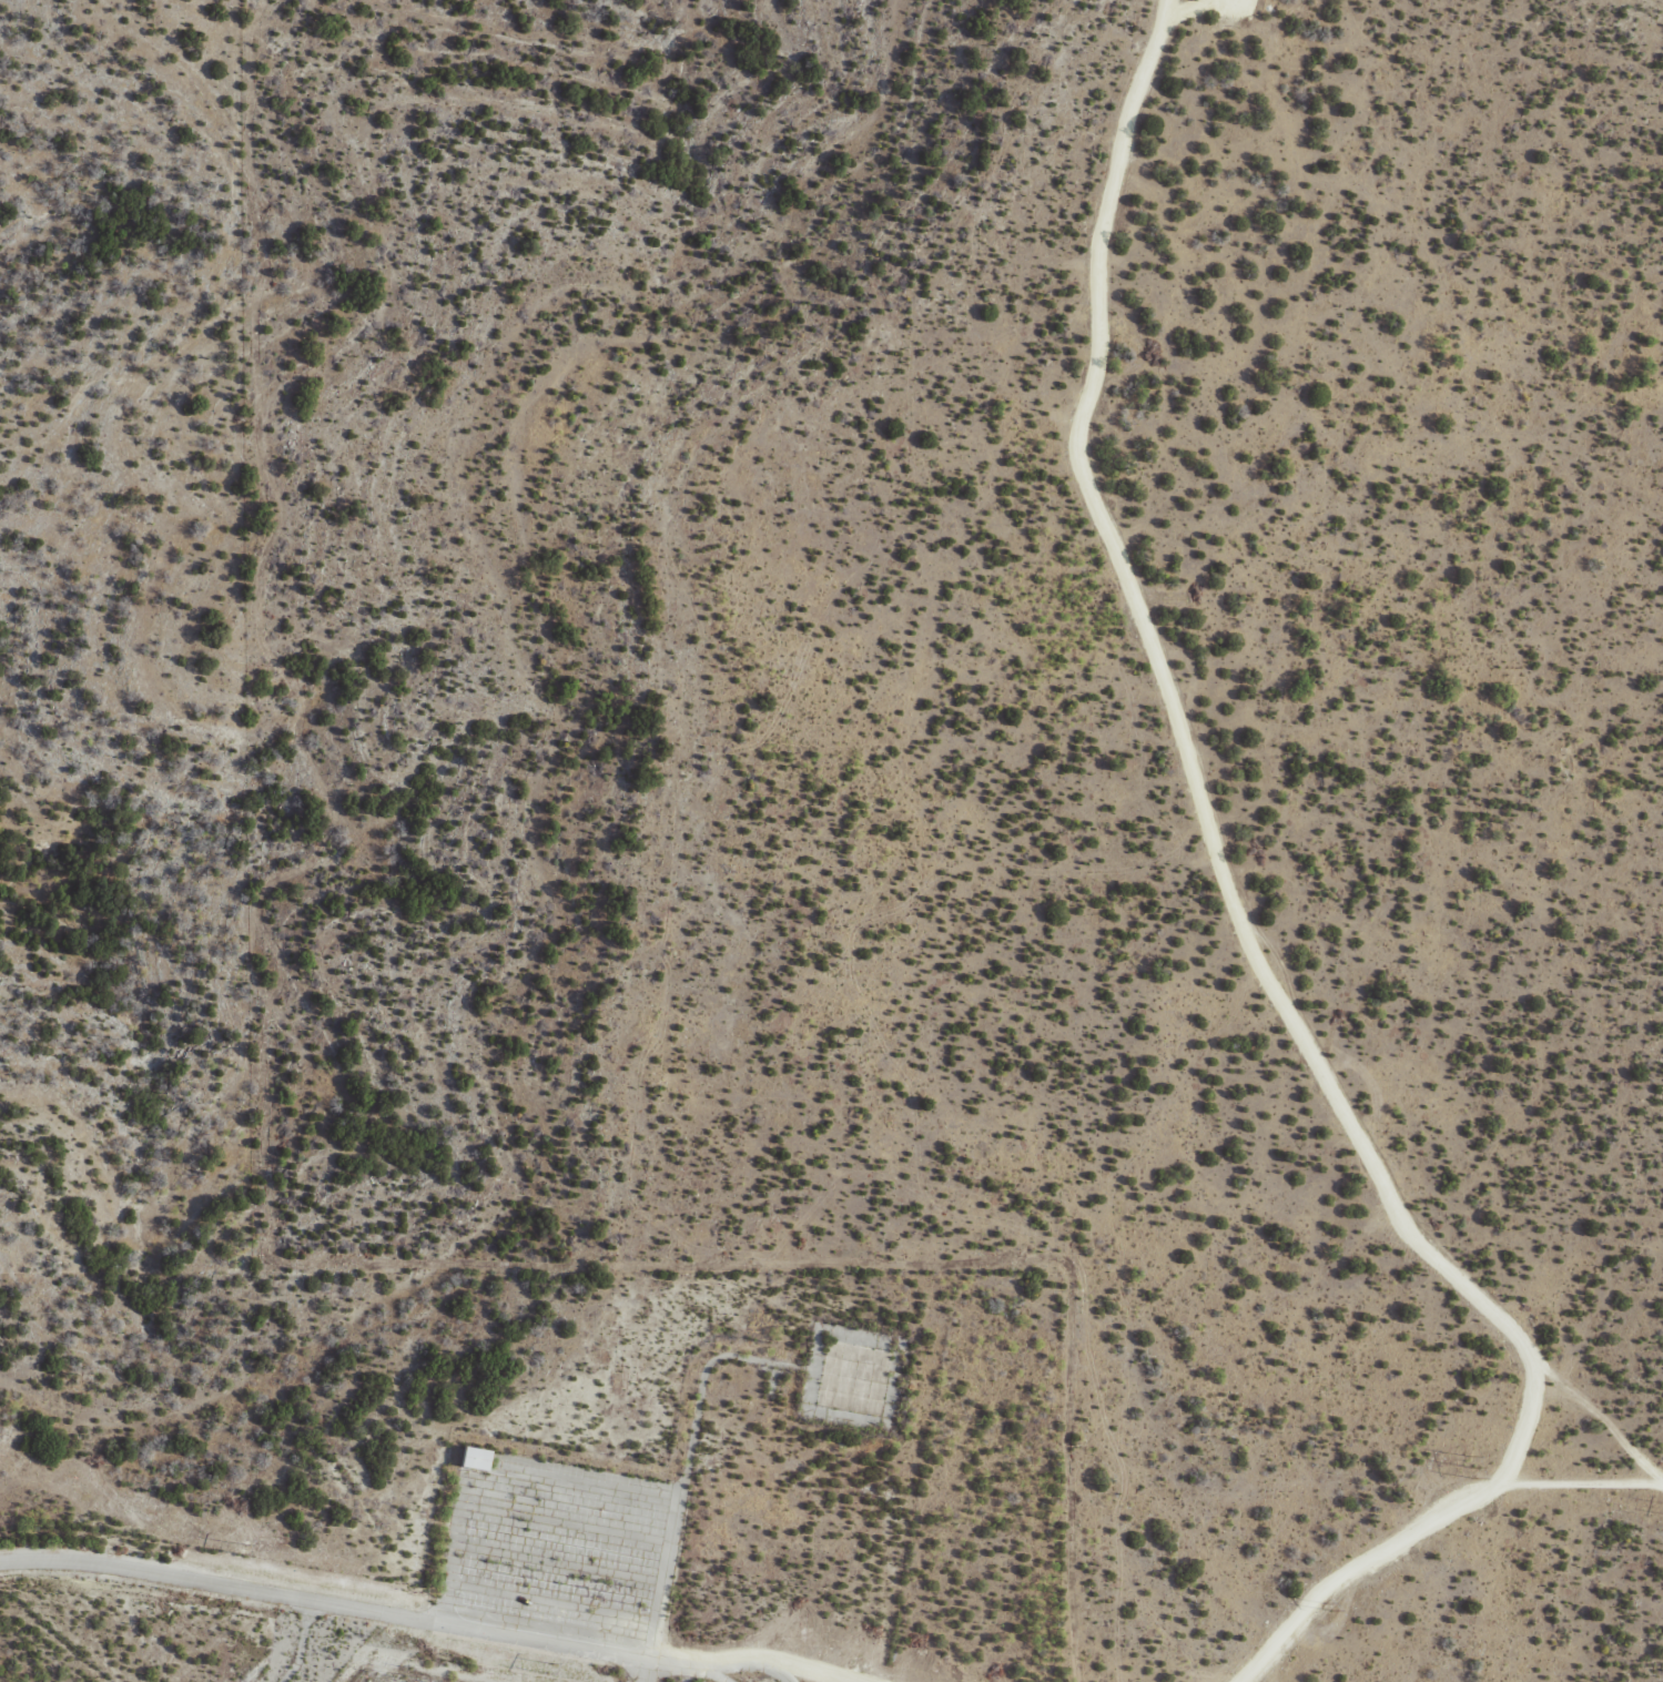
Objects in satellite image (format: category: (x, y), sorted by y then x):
road: (1150, 835)
building: (470, 1459)
road: (676, 1460)
power tower: (1479, 1467)
road: (1403, 1528)
power tower: (244, 1549)
parking lot: (551, 1550)
power tower: (1339, 1609)
road: (400, 1621)
power tower: (548, 1668)
road: (652, 1674)

